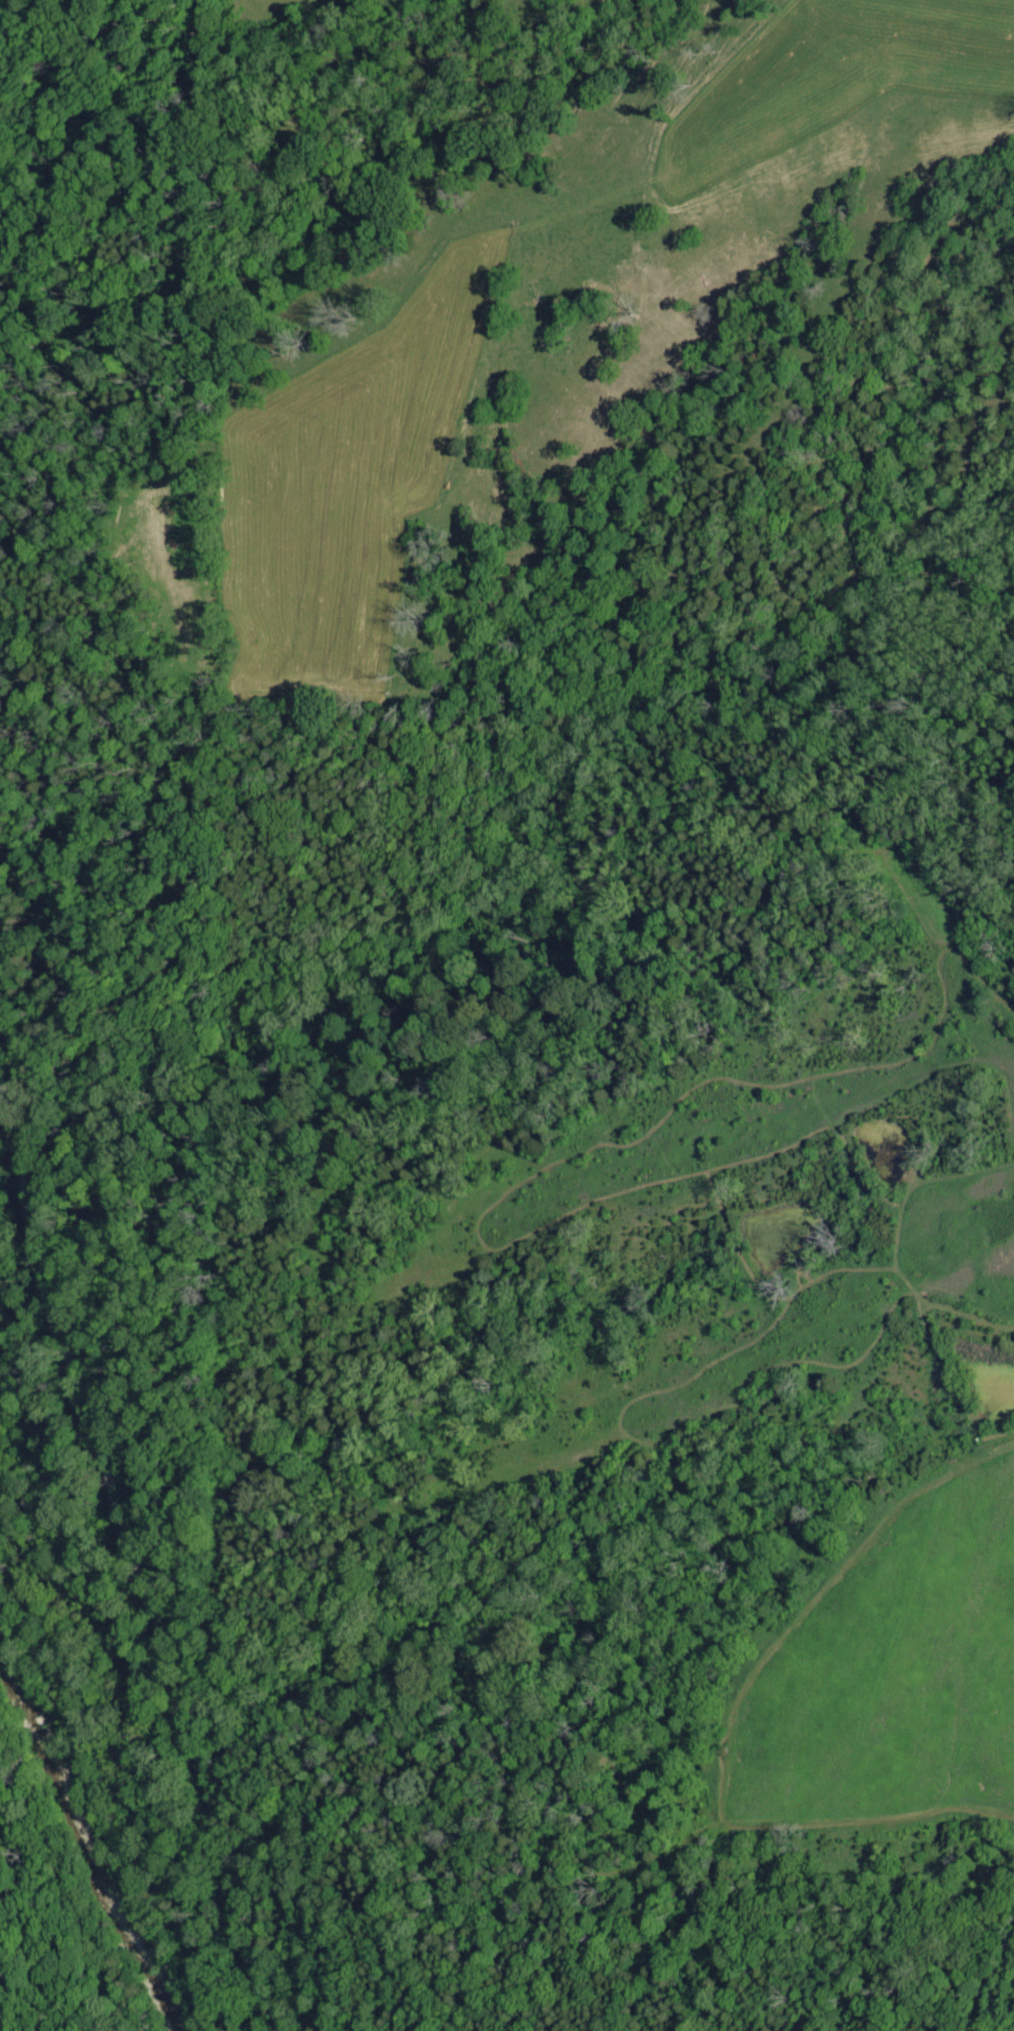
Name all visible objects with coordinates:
road: (131, 1545)

